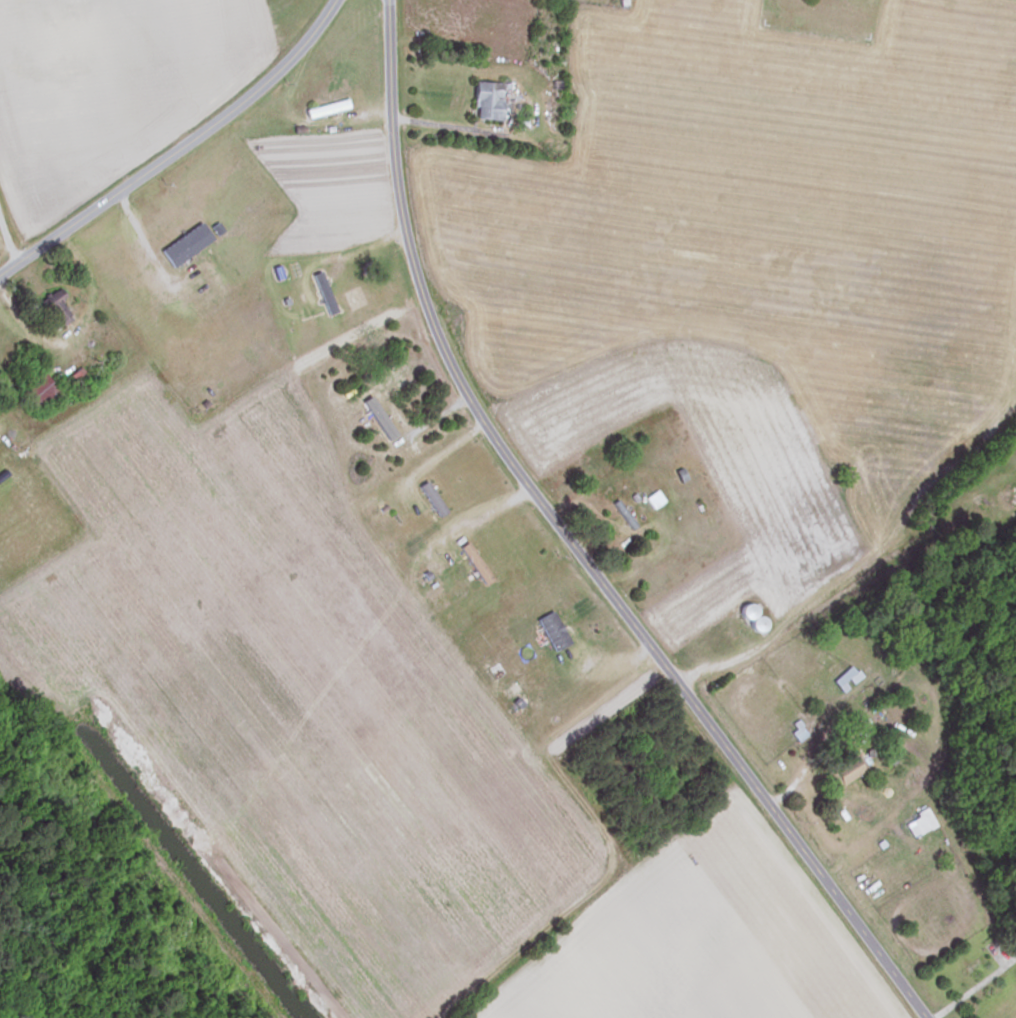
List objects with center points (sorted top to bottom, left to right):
building: (485, 100)
building: (325, 108)
road: (178, 148)
building: (184, 244)
building: (54, 309)
building: (36, 391)
building: (430, 499)
building: (653, 499)
building: (1013, 501)
building: (367, 508)
road: (572, 544)
building: (473, 563)
building: (750, 617)
building: (551, 631)
building: (845, 679)
building: (642, 766)
building: (845, 769)
building: (918, 824)
road: (975, 987)

